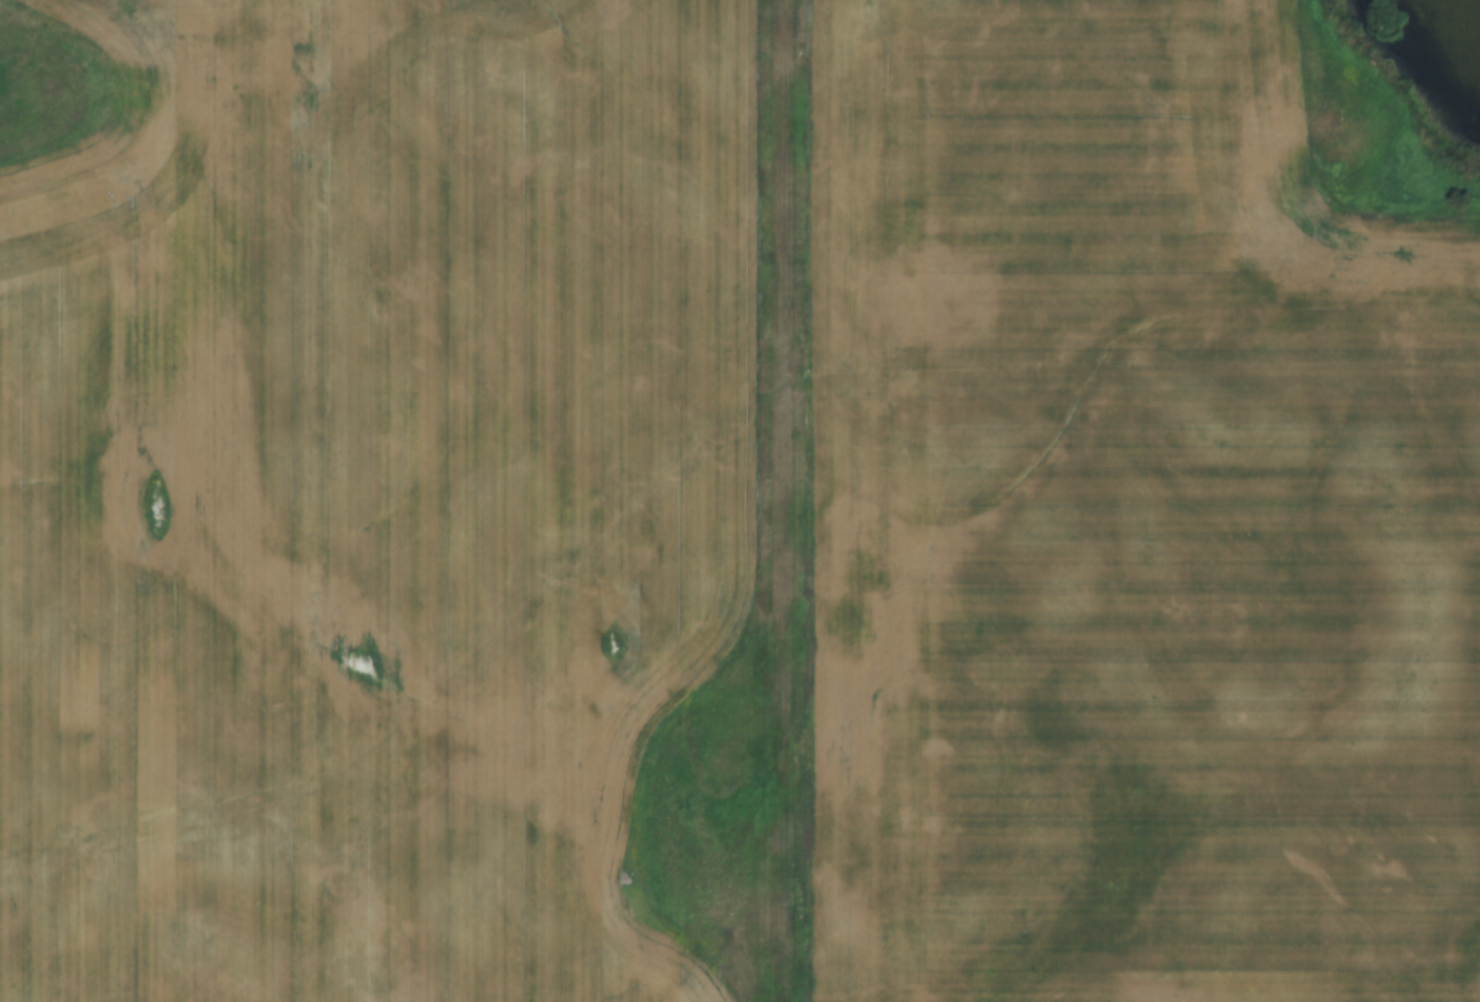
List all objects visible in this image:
road: (782, 501)

